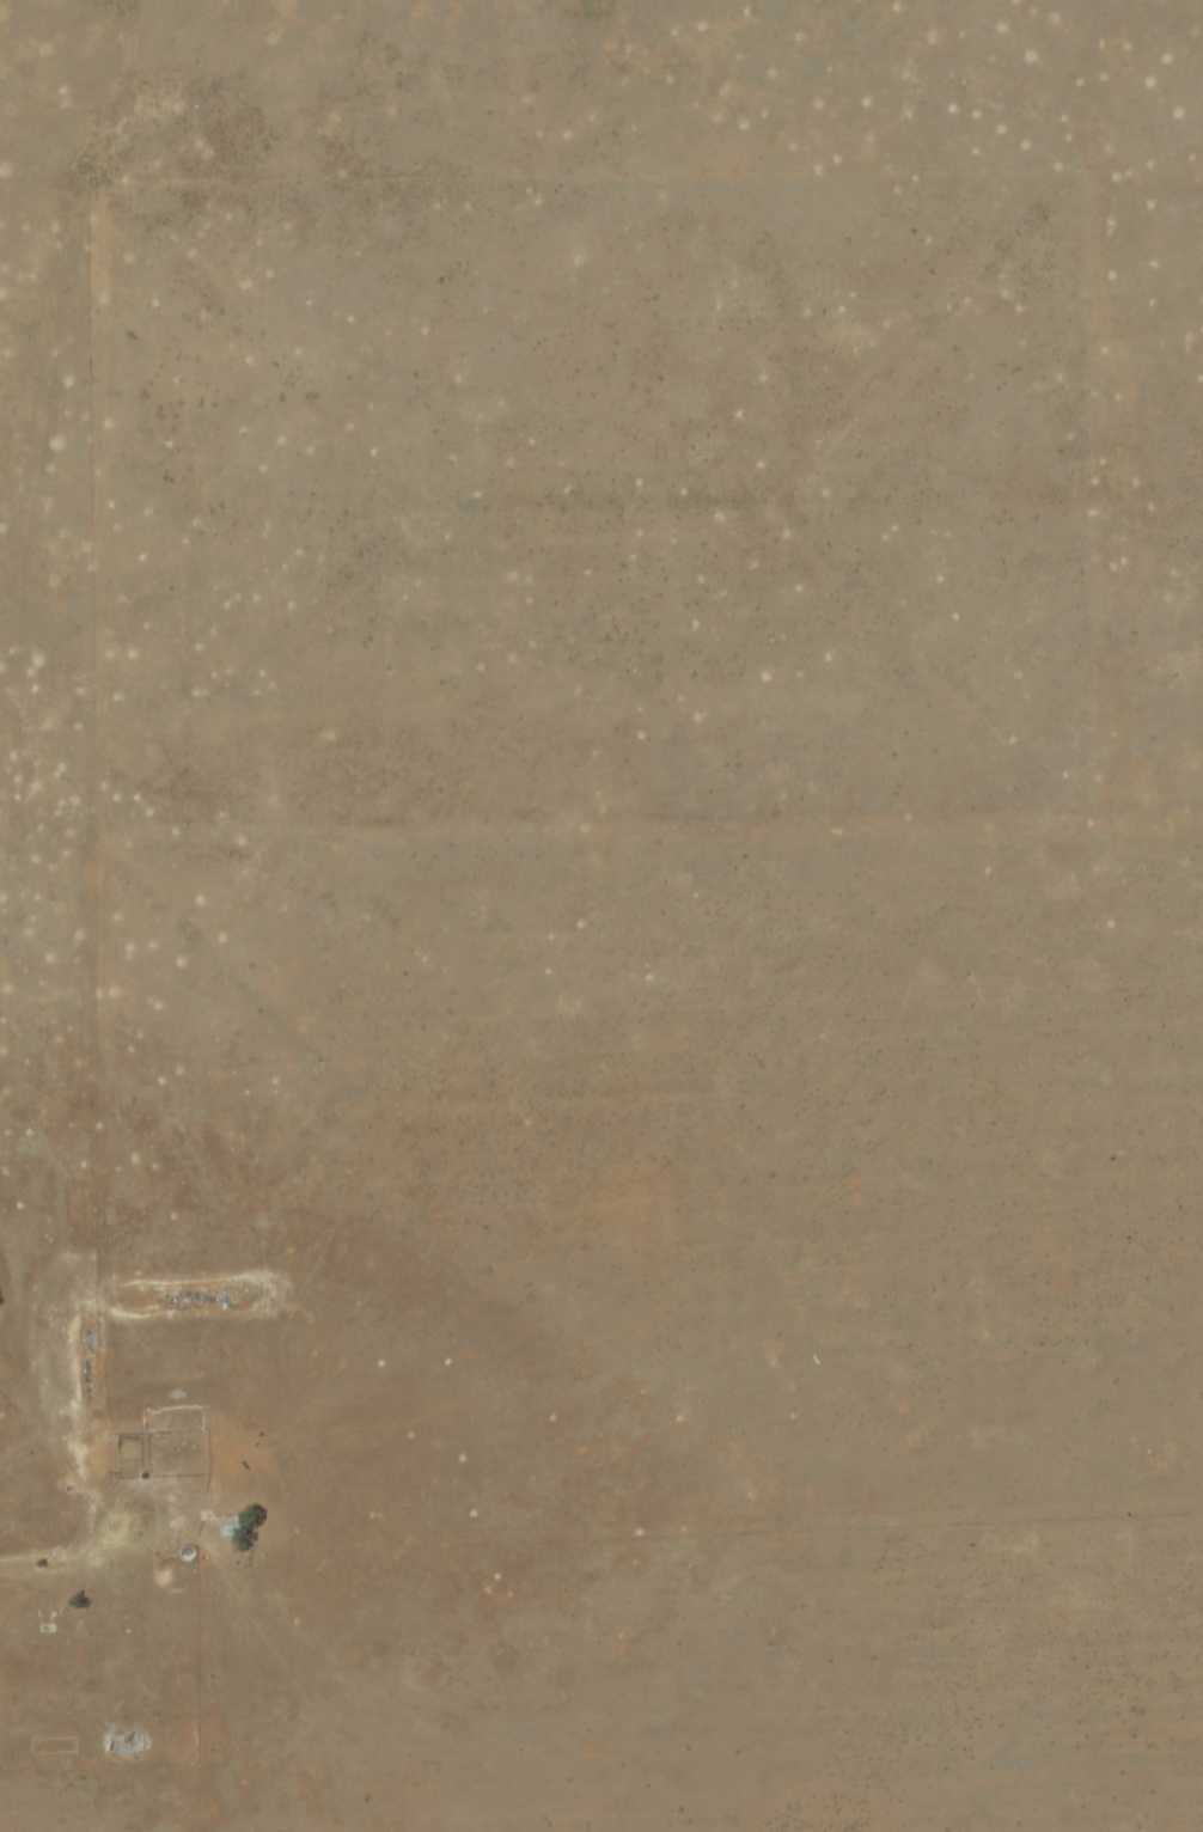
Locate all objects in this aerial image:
building: (234, 1526)
road: (114, 1559)
building: (124, 1742)

